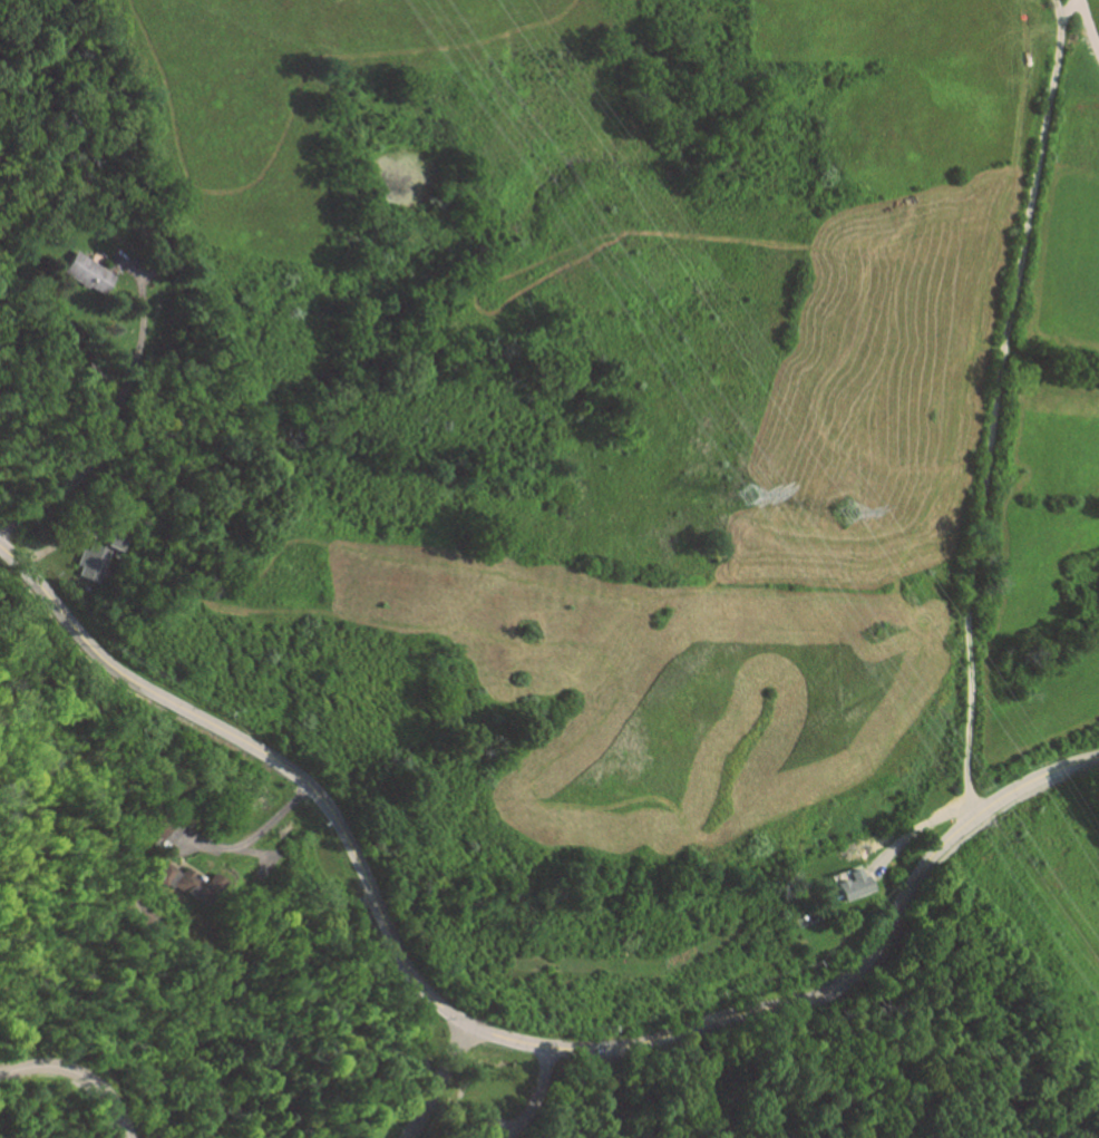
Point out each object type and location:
building: (82, 272)
road: (994, 408)
road: (107, 424)
power tower: (747, 495)
power tower: (845, 514)
building: (94, 564)
road: (254, 833)
building: (181, 881)
building: (846, 886)
road: (490, 1033)
road: (78, 1076)
road: (438, 1082)
road: (535, 1096)

